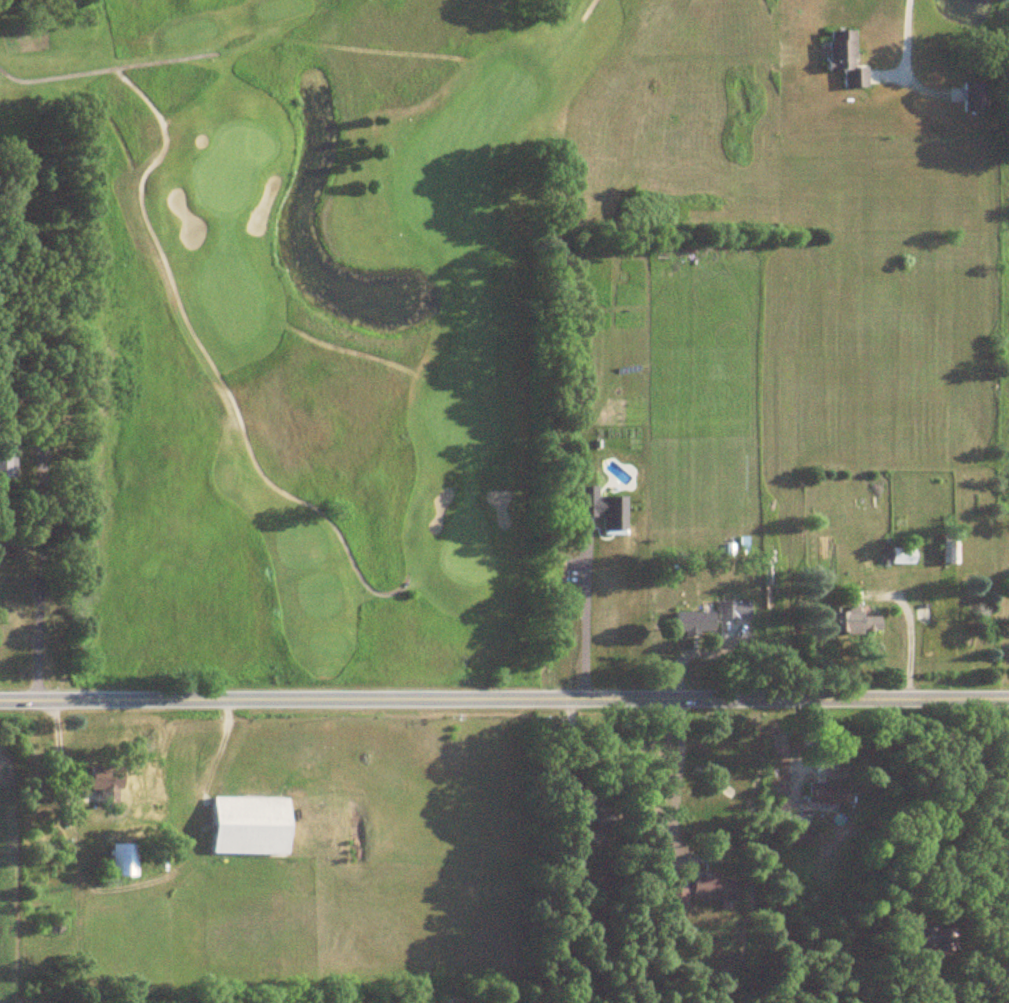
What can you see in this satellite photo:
road: (902, 36)
building: (842, 58)
building: (974, 97)
park: (306, 322)
building: (5, 458)
building: (949, 548)
building: (901, 555)
road: (40, 572)
building: (711, 618)
building: (854, 623)
road: (581, 626)
road: (909, 631)
road: (504, 701)
road: (674, 782)
building: (104, 783)
building: (824, 794)
road: (946, 804)
building: (593, 808)
building: (247, 826)
building: (795, 837)
building: (119, 860)
building: (710, 889)
building: (677, 898)
building: (926, 941)

